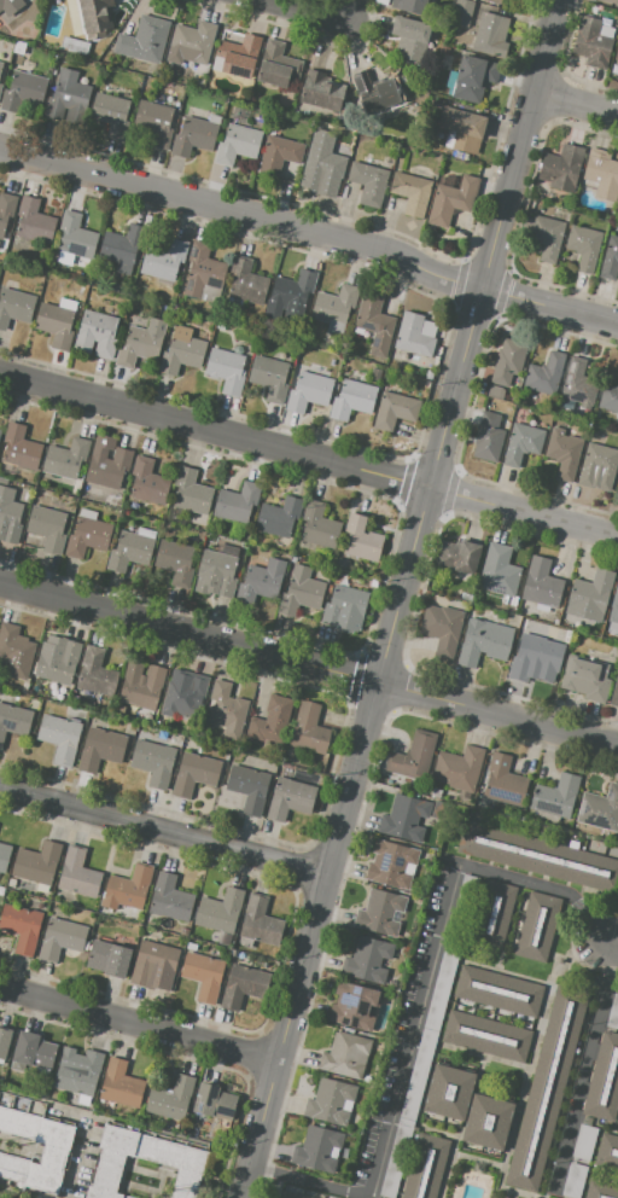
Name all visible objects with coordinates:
building: (614, 0)
building: (497, 1)
building: (5, 5)
building: (409, 5)
road: (305, 11)
road: (352, 11)
building: (462, 12)
building: (89, 17)
building: (491, 35)
building: (409, 37)
building: (145, 39)
building: (593, 41)
building: (192, 42)
building: (75, 45)
building: (616, 53)
building: (238, 56)
building: (276, 65)
building: (0, 69)
building: (471, 78)
building: (362, 81)
building: (0, 87)
building: (319, 91)
building: (23, 92)
building: (66, 99)
building: (169, 100)
building: (386, 100)
road: (575, 103)
building: (297, 111)
building: (110, 114)
building: (151, 124)
building: (462, 129)
building: (196, 135)
building: (237, 144)
building: (279, 153)
building: (321, 165)
building: (561, 168)
building: (601, 175)
building: (368, 181)
building: (410, 192)
building: (451, 200)
building: (6, 209)
building: (34, 221)
road: (310, 233)
building: (544, 237)
building: (75, 238)
building: (584, 246)
building: (119, 249)
building: (610, 258)
building: (163, 260)
building: (202, 271)
building: (245, 284)
building: (291, 293)
building: (16, 307)
building: (334, 310)
building: (57, 321)
building: (374, 322)
building: (220, 326)
building: (97, 335)
building: (413, 336)
building: (141, 343)
building: (183, 350)
building: (332, 362)
building: (507, 362)
building: (225, 370)
building: (546, 373)
building: (375, 374)
building: (428, 374)
building: (269, 377)
building: (426, 384)
building: (577, 384)
building: (309, 392)
building: (496, 392)
building: (608, 397)
building: (352, 400)
building: (395, 409)
building: (0, 431)
building: (488, 437)
building: (521, 438)
building: (19, 449)
building: (564, 453)
road: (308, 454)
building: (65, 459)
building: (106, 463)
building: (599, 467)
building: (617, 476)
building: (30, 478)
building: (46, 481)
building: (147, 482)
building: (187, 496)
building: (112, 501)
building: (237, 501)
building: (10, 516)
building: (279, 517)
building: (320, 525)
building: (47, 528)
building: (89, 534)
building: (361, 540)
building: (132, 549)
building: (457, 557)
building: (175, 562)
building: (342, 563)
building: (500, 572)
building: (215, 574)
building: (261, 582)
building: (541, 585)
building: (301, 592)
building: (591, 592)
building: (465, 597)
road: (398, 599)
building: (614, 604)
building: (345, 609)
building: (555, 622)
building: (442, 628)
building: (565, 633)
building: (484, 641)
building: (14, 651)
building: (535, 657)
building: (58, 663)
road: (308, 664)
building: (95, 673)
building: (585, 677)
building: (141, 684)
building: (24, 687)
building: (614, 694)
building: (183, 698)
building: (226, 706)
building: (119, 711)
building: (272, 720)
building: (13, 721)
building: (309, 729)
building: (60, 738)
building: (100, 749)
building: (413, 756)
building: (153, 762)
building: (252, 762)
building: (460, 769)
building: (286, 772)
building: (194, 774)
building: (503, 781)
building: (249, 787)
building: (555, 796)
building: (290, 798)
building: (600, 809)
building: (404, 819)
road: (163, 828)
building: (4, 855)
building: (538, 855)
building: (37, 863)
building: (391, 865)
building: (77, 873)
building: (12, 882)
building: (127, 889)
building: (170, 897)
building: (22, 900)
building: (220, 911)
building: (379, 913)
building: (492, 915)
building: (130, 918)
building: (260, 921)
building: (22, 926)
building: (536, 926)
building: (60, 938)
building: (192, 947)
road: (611, 948)
building: (244, 956)
building: (109, 959)
building: (367, 961)
building: (153, 963)
building: (204, 976)
building: (244, 985)
building: (497, 990)
road: (419, 999)
building: (354, 1005)
building: (613, 1013)
road: (138, 1027)
building: (485, 1035)
building: (4, 1040)
building: (31, 1051)
building: (345, 1055)
road: (588, 1063)
building: (78, 1071)
building: (604, 1077)
building: (121, 1084)
building: (547, 1087)
building: (449, 1093)
building: (170, 1098)
building: (214, 1101)
building: (332, 1101)
building: (488, 1122)
building: (584, 1142)
building: (57, 1147)
building: (607, 1148)
building: (317, 1150)
building: (111, 1161)
building: (425, 1167)
building: (573, 1180)
building: (601, 1190)
building: (290, 1194)

